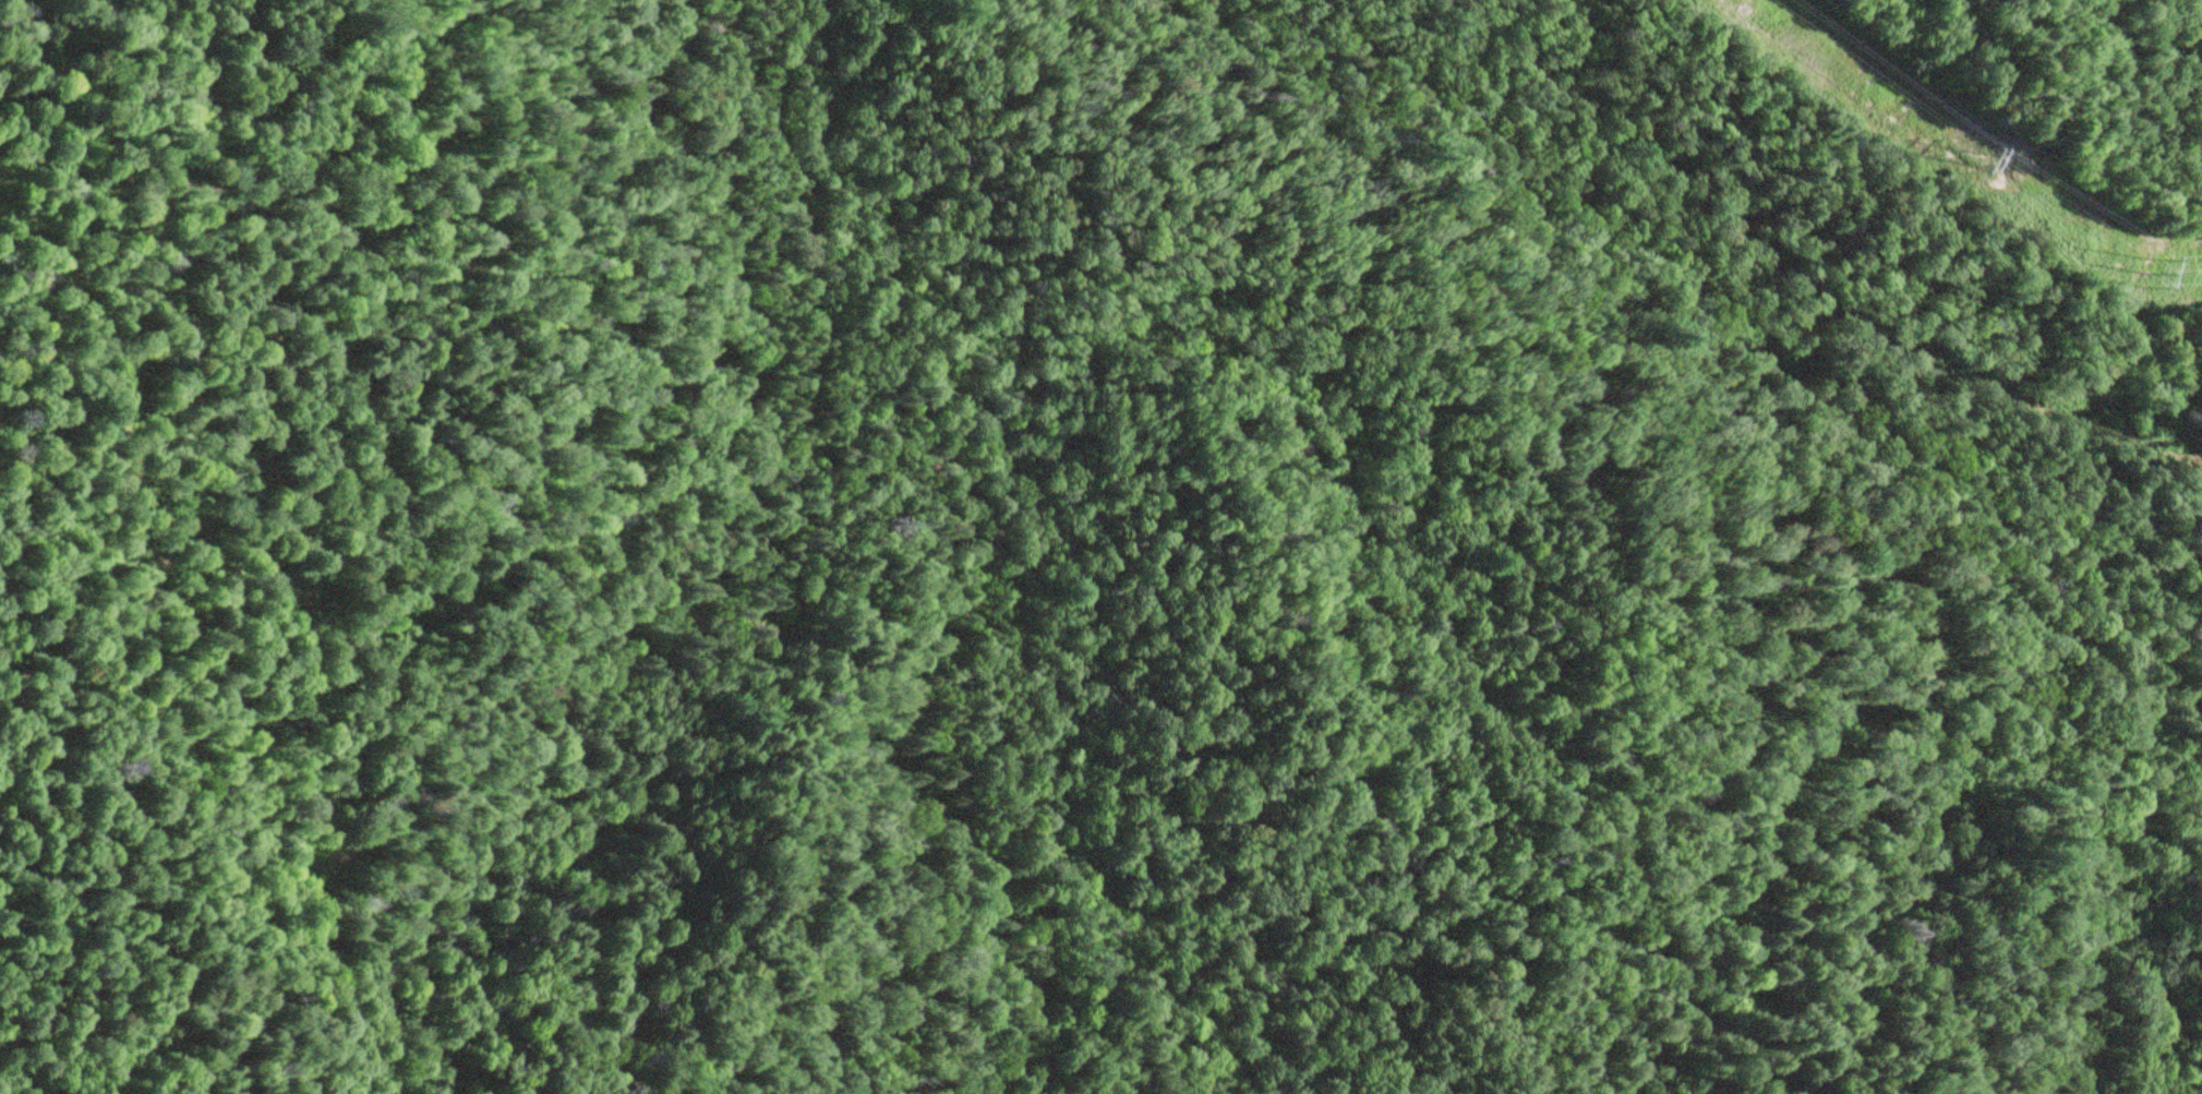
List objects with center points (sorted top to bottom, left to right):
power tower: (1984, 163)
power tower: (2151, 276)

